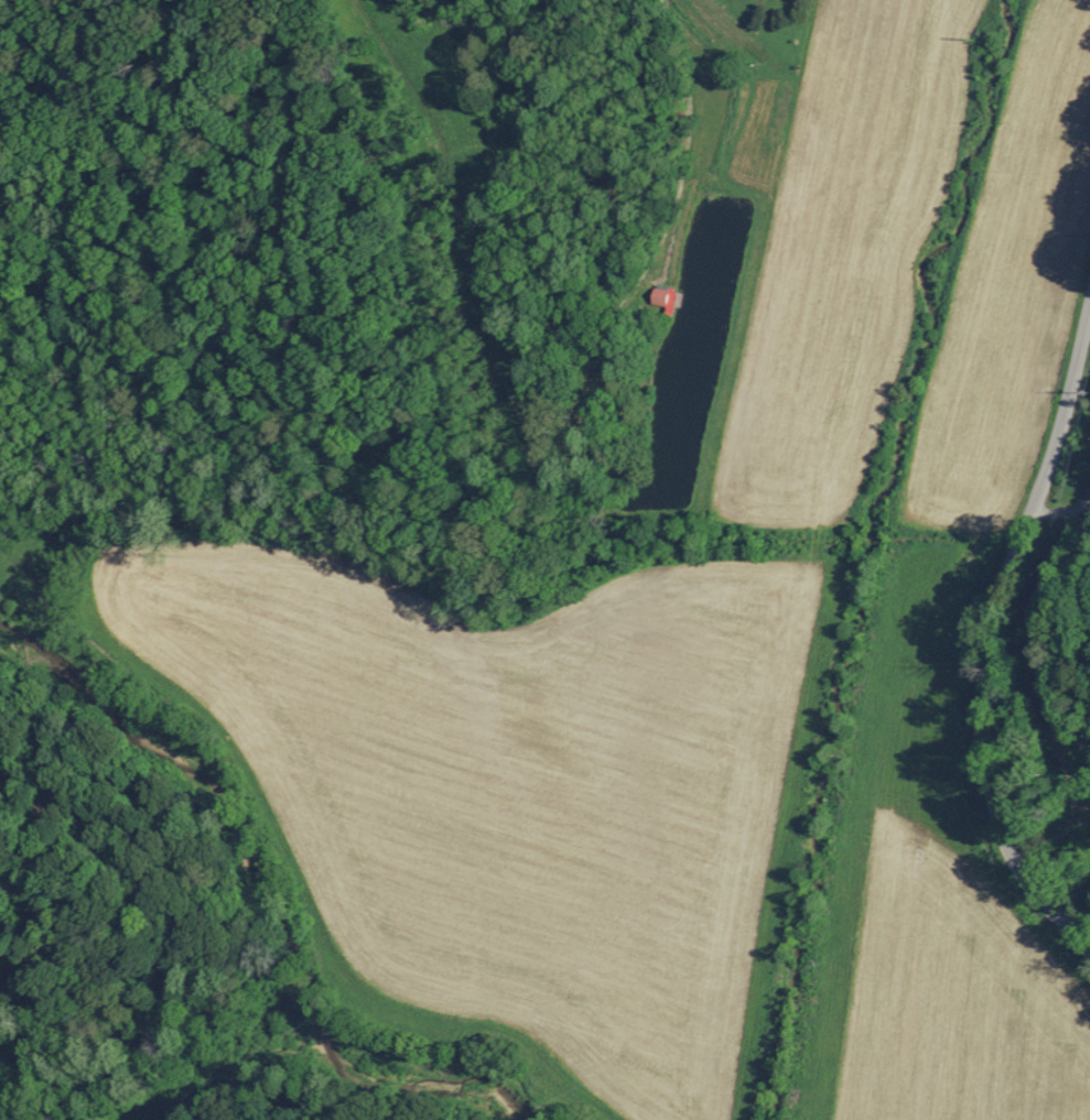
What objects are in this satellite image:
building: (661, 294)
building: (1089, 481)
road: (994, 635)

